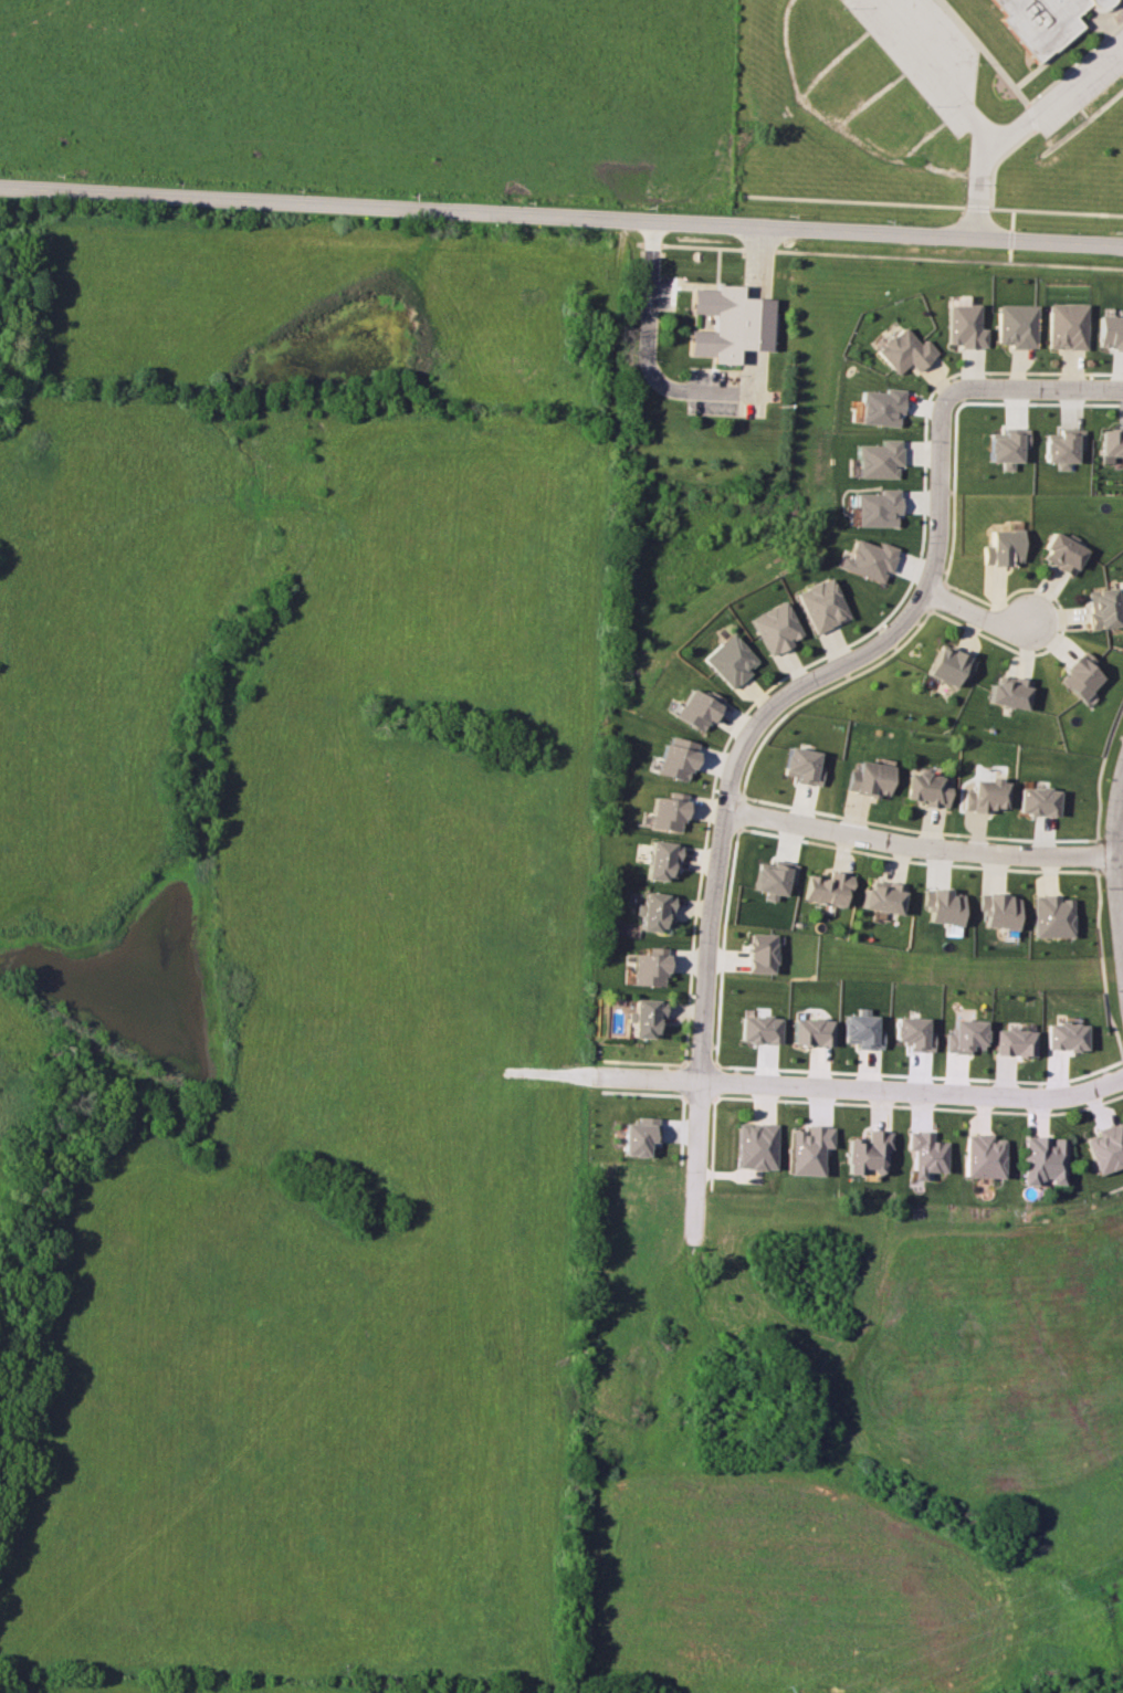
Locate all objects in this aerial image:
building: (1041, 22)
road: (931, 67)
road: (1056, 95)
road: (980, 188)
road: (561, 215)
road: (757, 259)
building: (731, 323)
building: (1015, 325)
building: (1066, 325)
building: (964, 326)
building: (1110, 332)
building: (904, 350)
road: (650, 368)
building: (881, 407)
building: (1112, 442)
building: (1008, 445)
building: (1063, 446)
building: (878, 459)
building: (875, 508)
building: (1004, 547)
building: (1062, 554)
building: (868, 559)
building: (821, 604)
building: (1103, 608)
road: (975, 614)
building: (775, 627)
building: (730, 661)
building: (949, 665)
building: (1081, 675)
building: (1009, 692)
road: (778, 701)
building: (696, 708)
building: (675, 758)
building: (801, 765)
building: (869, 778)
building: (925, 789)
building: (986, 795)
building: (1038, 801)
building: (667, 811)
road: (922, 845)
road: (1120, 858)
building: (661, 860)
building: (773, 877)
building: (827, 888)
building: (882, 896)
building: (942, 905)
building: (999, 909)
building: (654, 911)
building: (1052, 916)
building: (760, 953)
building: (650, 967)
building: (647, 1017)
building: (760, 1029)
building: (862, 1030)
building: (812, 1031)
building: (913, 1032)
building: (965, 1035)
building: (1067, 1035)
building: (1015, 1042)
road: (861, 1086)
building: (641, 1136)
building: (755, 1145)
building: (1106, 1147)
building: (807, 1149)
building: (867, 1150)
building: (925, 1155)
building: (983, 1156)
building: (1043, 1159)

